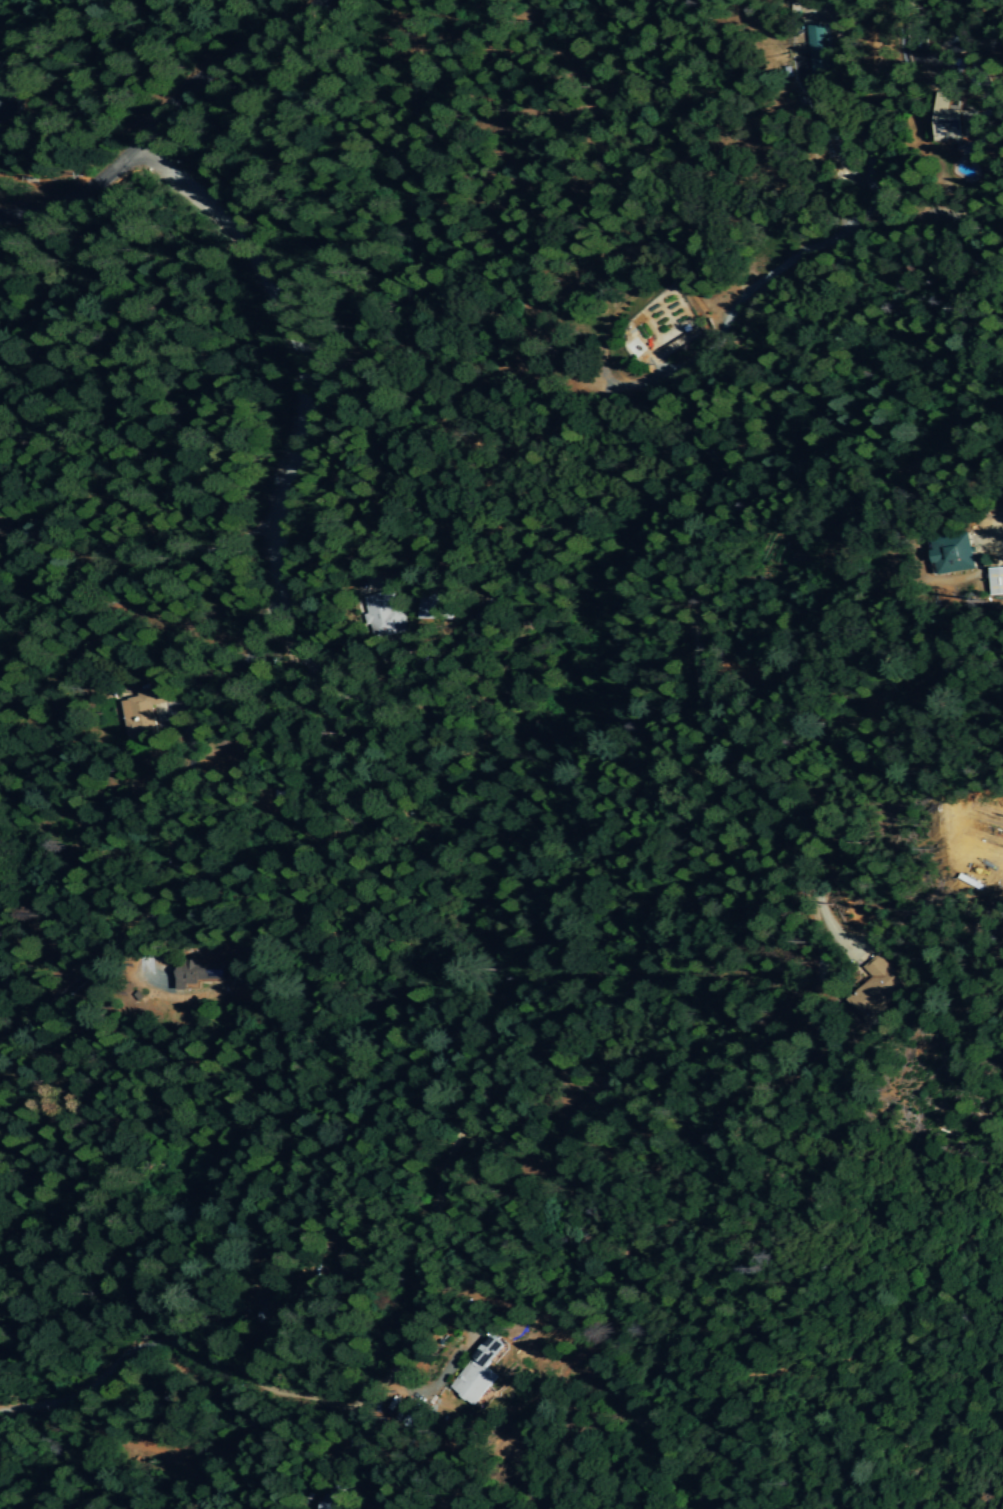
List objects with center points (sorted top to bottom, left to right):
road: (159, 114)
road: (278, 526)
building: (953, 559)
building: (388, 616)
building: (143, 711)
building: (189, 978)
building: (877, 989)
building: (477, 1372)

